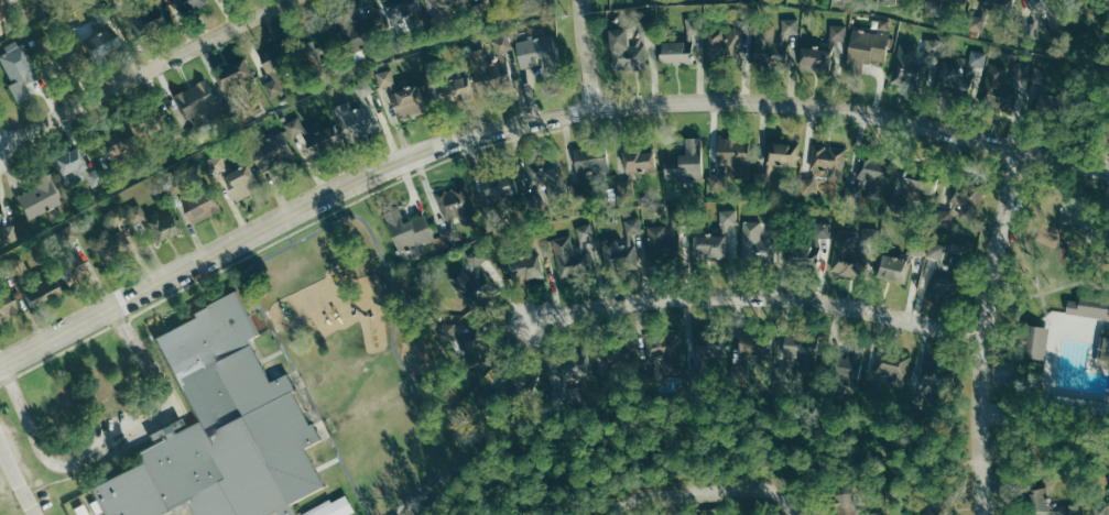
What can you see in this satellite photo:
building: (958, 0)
building: (889, 1)
building: (449, 3)
building: (991, 3)
building: (199, 4)
building: (407, 9)
building: (155, 15)
building: (976, 22)
building: (790, 26)
building: (362, 33)
building: (838, 33)
building: (109, 43)
building: (724, 44)
building: (769, 44)
building: (868, 46)
building: (933, 47)
building: (624, 52)
building: (675, 52)
building: (545, 54)
road: (585, 54)
building: (814, 58)
building: (911, 66)
building: (501, 68)
building: (279, 69)
building: (21, 70)
road: (144, 70)
building: (948, 70)
building: (1043, 72)
building: (242, 76)
building: (390, 78)
building: (1004, 79)
building: (445, 81)
road: (1094, 86)
building: (413, 101)
building: (361, 110)
road: (530, 119)
building: (322, 134)
building: (283, 144)
building: (784, 154)
building: (732, 156)
building: (640, 158)
building: (830, 161)
building: (221, 163)
building: (686, 163)
building: (595, 165)
building: (81, 168)
building: (248, 182)
building: (716, 183)
building: (508, 185)
building: (809, 186)
building: (915, 190)
building: (43, 198)
building: (199, 199)
building: (969, 200)
building: (459, 204)
park: (1083, 210)
building: (140, 213)
building: (728, 217)
building: (944, 217)
building: (4, 219)
building: (170, 227)
building: (414, 232)
building: (586, 232)
building: (455, 234)
building: (662, 243)
building: (759, 244)
building: (117, 246)
building: (624, 246)
building: (708, 246)
building: (812, 249)
building: (946, 249)
building: (850, 256)
building: (572, 259)
building: (894, 264)
building: (525, 269)
building: (472, 283)
building: (48, 291)
road: (757, 298)
road: (1044, 302)
building: (1090, 306)
building: (11, 307)
park: (1054, 309)
road: (983, 331)
building: (1034, 340)
building: (801, 348)
building: (1103, 349)
building: (752, 352)
building: (711, 353)
building: (665, 354)
road: (146, 359)
building: (621, 359)
building: (574, 369)
building: (892, 373)
building: (935, 384)
road: (31, 423)
building: (222, 426)
road: (119, 436)
road: (888, 446)
road: (18, 476)
road: (742, 487)
road: (639, 495)
building: (1037, 502)
building: (842, 504)
building: (331, 508)
building: (1101, 509)
building: (874, 513)

